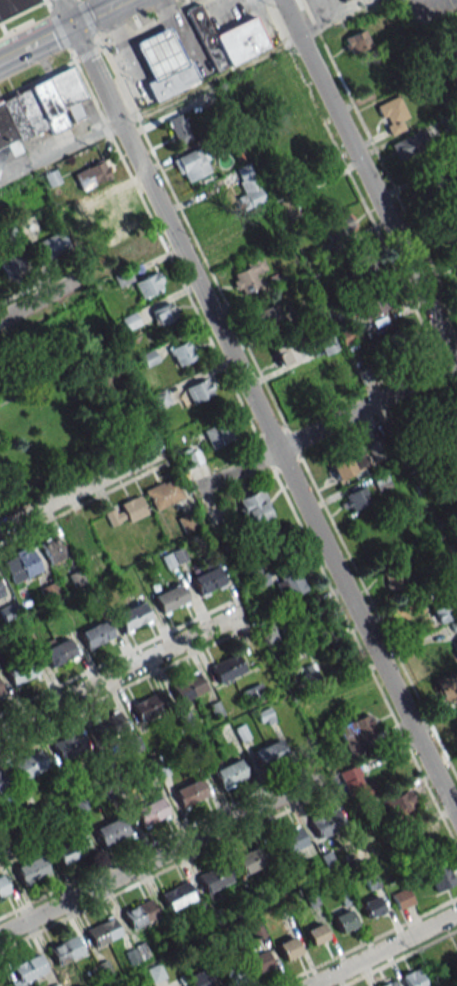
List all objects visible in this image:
building: (342, 1)
building: (14, 6)
road: (68, 12)
road: (98, 12)
traffic signals: (74, 24)
road: (59, 28)
building: (225, 39)
road: (37, 42)
building: (357, 42)
building: (161, 53)
building: (372, 78)
building: (172, 81)
building: (263, 83)
building: (40, 108)
road: (149, 110)
building: (392, 112)
building: (177, 128)
building: (407, 145)
building: (291, 160)
building: (190, 165)
building: (91, 174)
road: (369, 182)
building: (438, 183)
building: (245, 189)
building: (109, 204)
building: (291, 207)
building: (338, 227)
building: (447, 231)
building: (51, 245)
building: (454, 262)
building: (11, 266)
building: (362, 266)
building: (247, 276)
building: (122, 278)
building: (148, 284)
road: (40, 298)
building: (371, 302)
building: (164, 313)
building: (266, 317)
building: (346, 334)
building: (383, 339)
building: (327, 344)
building: (285, 351)
building: (182, 352)
building: (0, 366)
road: (53, 376)
building: (199, 390)
building: (159, 399)
road: (263, 422)
road: (325, 426)
building: (220, 434)
building: (449, 456)
building: (188, 457)
building: (347, 464)
building: (456, 485)
road: (81, 487)
building: (163, 493)
building: (356, 498)
building: (254, 507)
building: (124, 511)
building: (188, 522)
building: (77, 538)
building: (51, 549)
building: (20, 564)
building: (207, 578)
building: (76, 579)
building: (393, 579)
building: (48, 591)
building: (0, 592)
building: (170, 598)
building: (443, 613)
building: (133, 616)
building: (271, 633)
building: (96, 634)
building: (455, 645)
building: (58, 652)
building: (227, 667)
building: (21, 670)
building: (308, 677)
road: (119, 680)
building: (447, 686)
building: (187, 687)
building: (0, 691)
building: (252, 694)
building: (148, 706)
building: (264, 716)
building: (455, 721)
building: (108, 725)
building: (358, 735)
building: (68, 745)
building: (268, 751)
building: (28, 765)
building: (230, 774)
building: (2, 781)
building: (354, 784)
building: (190, 792)
building: (403, 811)
building: (150, 812)
building: (326, 822)
building: (110, 831)
building: (420, 837)
building: (289, 840)
building: (70, 851)
road: (161, 854)
building: (251, 860)
building: (31, 869)
building: (439, 877)
building: (2, 886)
building: (177, 896)
building: (402, 898)
building: (370, 907)
building: (140, 913)
building: (344, 920)
building: (102, 931)
building: (316, 933)
building: (288, 948)
building: (66, 949)
road: (382, 949)
building: (260, 961)
building: (28, 972)
building: (155, 973)
building: (232, 976)
building: (412, 978)
building: (199, 979)
building: (389, 983)

